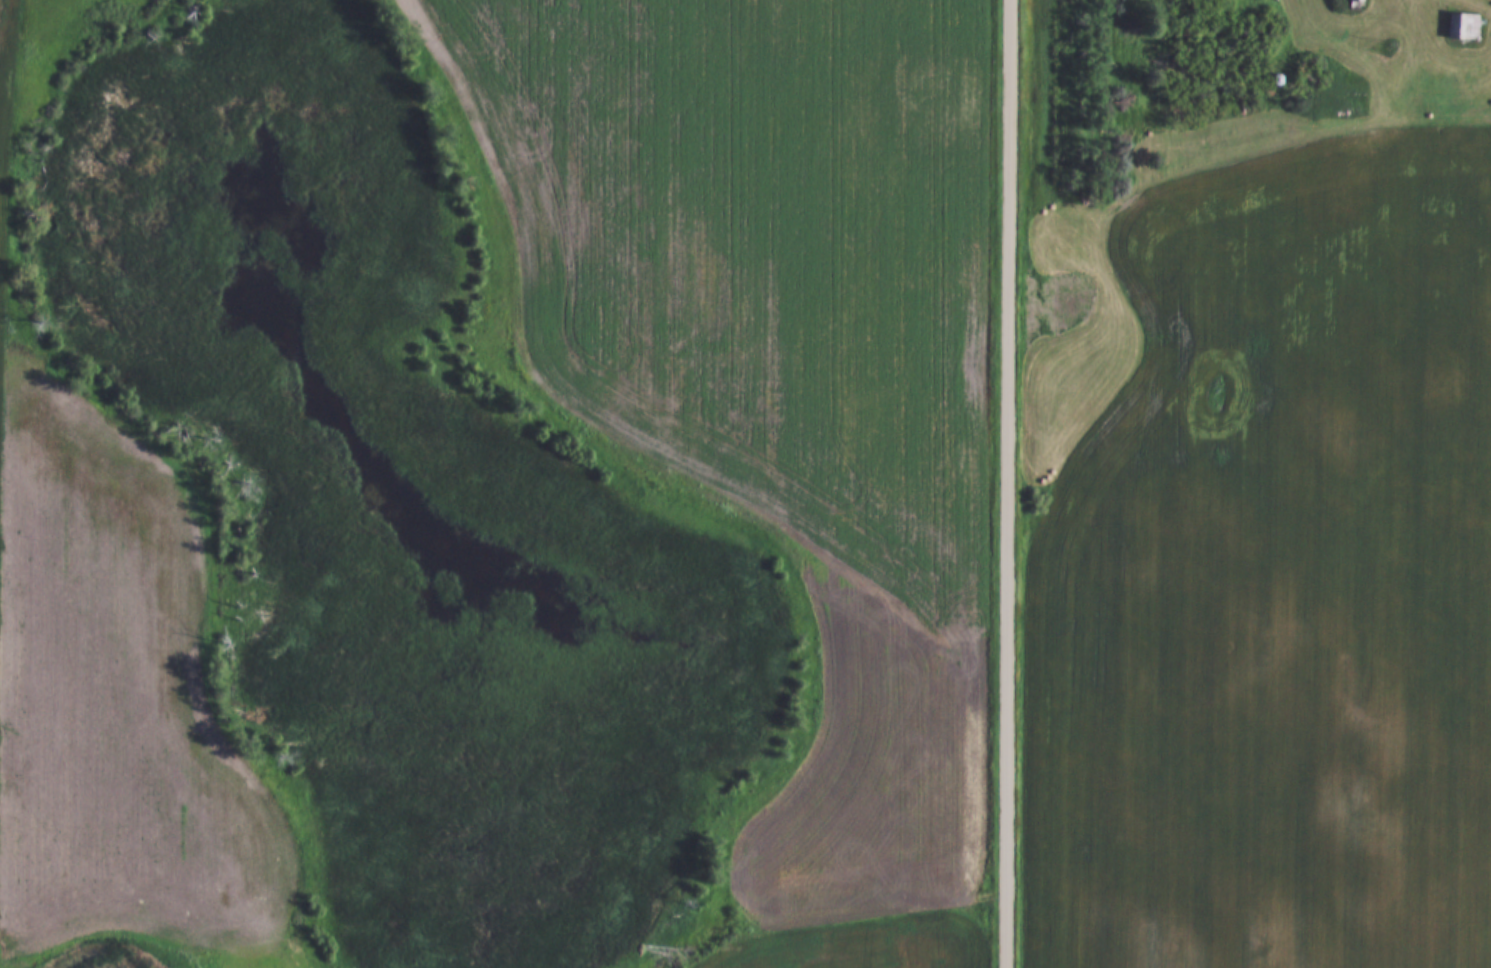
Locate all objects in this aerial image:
building: (1353, 4)
building: (1461, 28)
road: (1447, 42)
road: (1012, 484)

